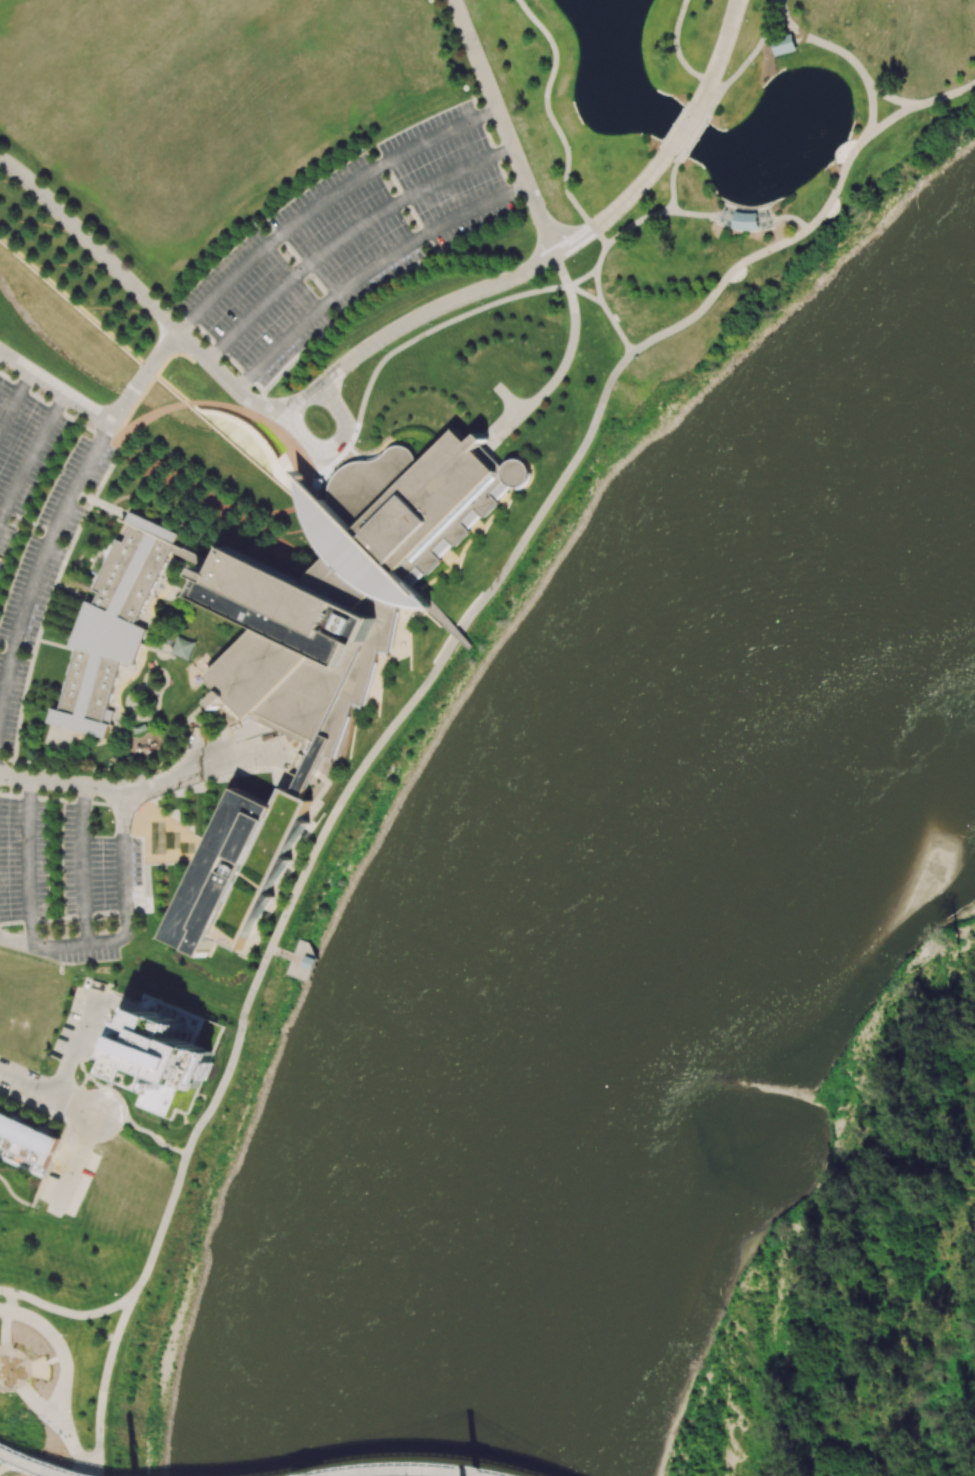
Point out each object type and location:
building: (783, 45)
road: (719, 53)
road: (844, 53)
road: (717, 84)
road: (715, 99)
road: (893, 99)
road: (556, 123)
road: (505, 127)
road: (682, 129)
road: (693, 136)
park: (710, 152)
road: (672, 184)
road: (324, 200)
road: (770, 217)
road: (790, 217)
building: (745, 221)
road: (347, 236)
parking lot: (347, 241)
road: (369, 271)
road: (599, 285)
road: (518, 296)
road: (607, 311)
road: (568, 361)
road: (137, 384)
road: (321, 386)
road: (54, 389)
road: (14, 396)
road: (511, 400)
road: (333, 448)
road: (31, 454)
road: (37, 571)
road: (467, 618)
building: (112, 627)
building: (324, 645)
building: (182, 647)
parking lot: (16, 653)
road: (144, 788)
river: (762, 816)
road: (26, 865)
road: (80, 866)
road: (125, 927)
river: (618, 932)
road: (274, 950)
road: (285, 954)
pier: (301, 961)
building: (308, 962)
road: (76, 1043)
building: (161, 1062)
road: (47, 1092)
road: (124, 1108)
building: (25, 1144)
road: (74, 1162)
road: (4, 1310)
road: (66, 1312)
road: (7, 1318)
road: (62, 1350)
road: (37, 1365)
road: (8, 1366)
road: (48, 1368)
road: (105, 1382)
road: (36, 1402)
road: (73, 1446)
road: (33, 1464)
road: (377, 1470)
road: (454, 1471)
road: (98, 1472)

